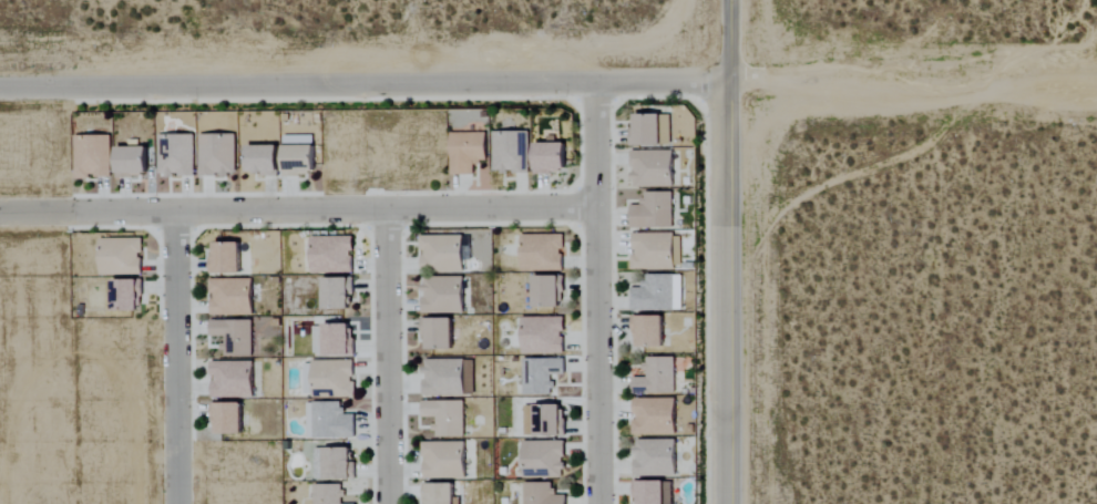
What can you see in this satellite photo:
road: (930, 78)
road: (745, 79)
road: (363, 82)
building: (649, 128)
building: (465, 151)
building: (510, 151)
building: (216, 154)
building: (174, 155)
building: (91, 156)
building: (548, 157)
building: (260, 158)
building: (296, 158)
building: (130, 161)
building: (652, 168)
road: (297, 210)
building: (652, 210)
building: (541, 251)
building: (655, 251)
road: (727, 251)
building: (441, 253)
building: (330, 254)
building: (119, 256)
building: (224, 257)
building: (546, 290)
road: (595, 291)
building: (335, 292)
building: (657, 294)
building: (124, 295)
building: (442, 295)
building: (229, 297)
building: (647, 330)
building: (437, 333)
building: (542, 335)
building: (233, 337)
building: (336, 339)
road: (383, 357)
road: (173, 358)
building: (540, 374)
building: (332, 377)
building: (448, 377)
building: (655, 377)
building: (306, 378)
building: (230, 380)
building: (653, 416)
building: (226, 418)
building: (444, 418)
building: (543, 420)
building: (327, 421)
building: (542, 459)
building: (654, 459)
building: (443, 460)
building: (337, 463)
building: (653, 492)
building: (438, 493)
building: (540, 494)

